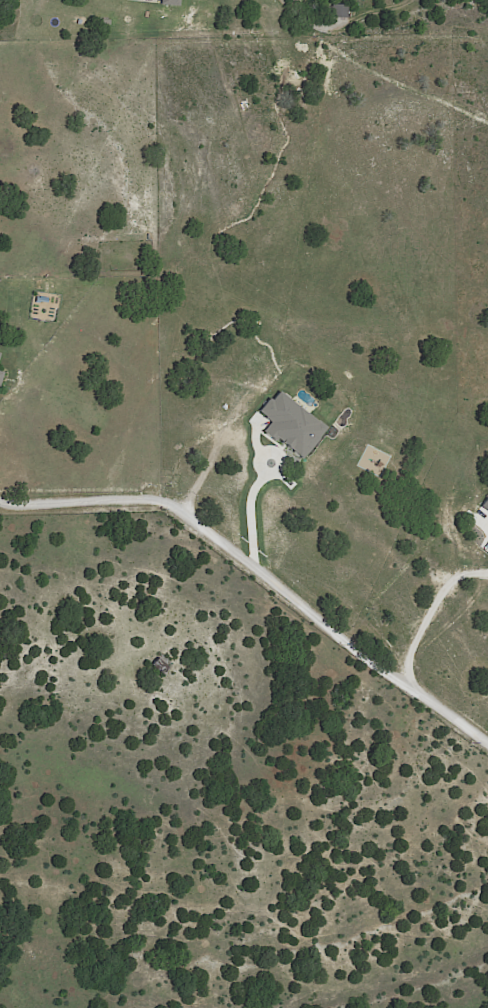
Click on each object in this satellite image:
building: (105, 22)
road: (257, 508)
road: (487, 520)
road: (260, 567)
road: (434, 614)
building: (162, 662)

